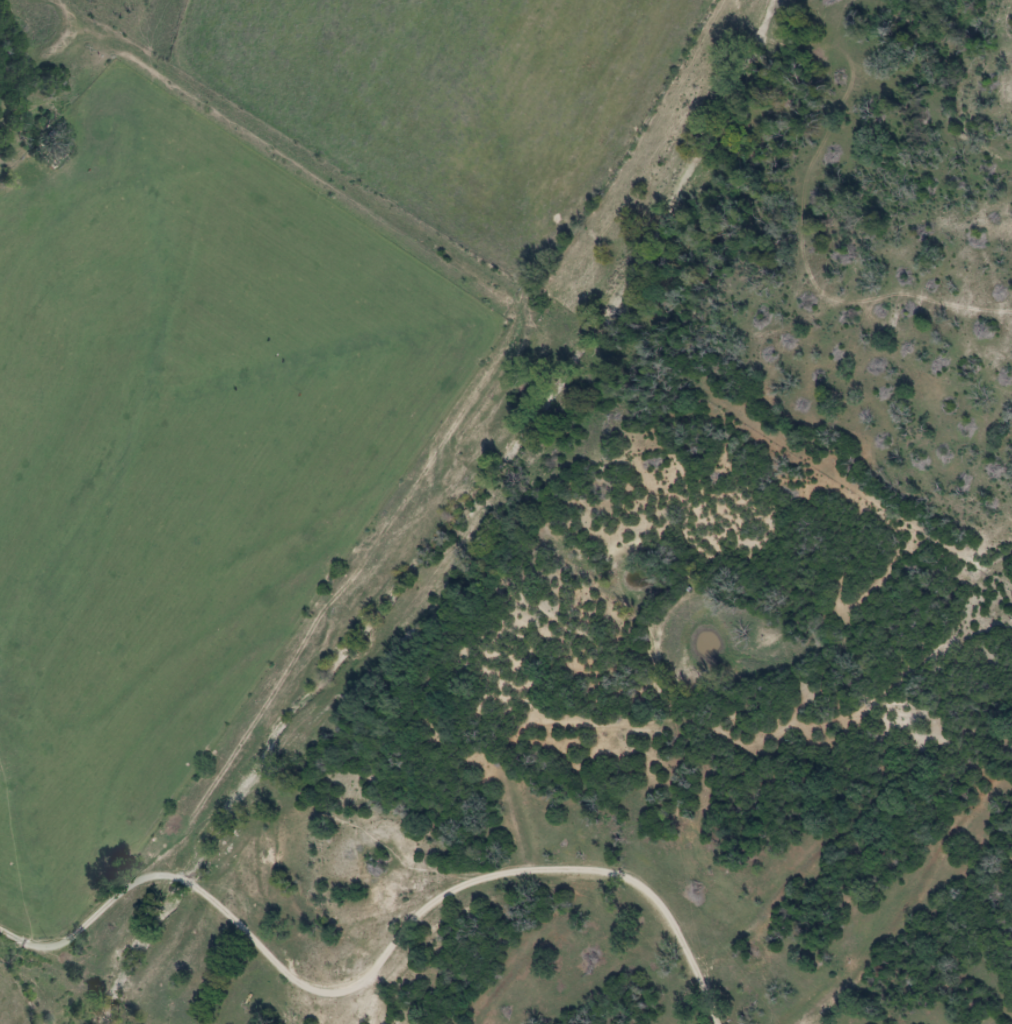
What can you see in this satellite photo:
road: (382, 957)

